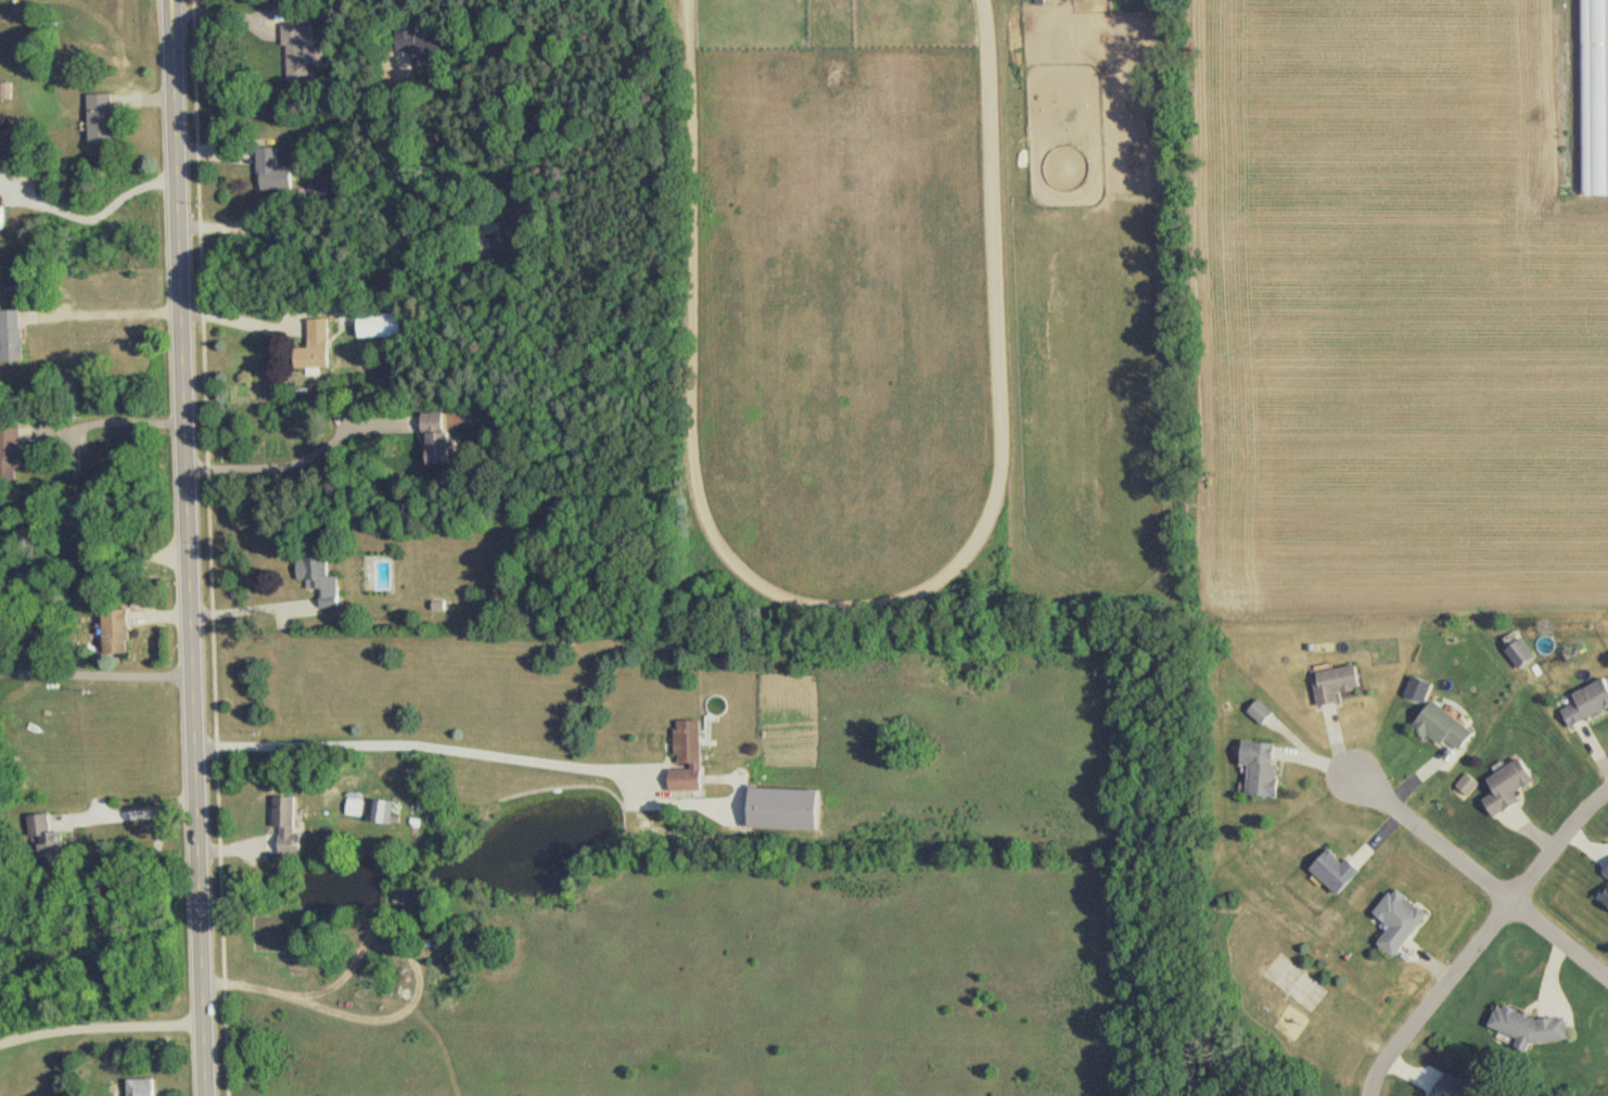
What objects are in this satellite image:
building: (1038, 1)
road: (234, 13)
building: (425, 43)
building: (303, 55)
building: (1597, 98)
building: (277, 173)
building: (1, 177)
building: (333, 188)
building: (521, 207)
building: (5, 217)
road: (98, 217)
road: (339, 271)
road: (109, 314)
building: (354, 317)
road: (244, 320)
building: (320, 346)
road: (109, 425)
building: (443, 438)
road: (307, 459)
road: (94, 531)
road: (190, 548)
building: (324, 573)
road: (254, 609)
building: (1517, 653)
road: (97, 673)
building: (1332, 684)
building: (1586, 702)
building: (1259, 712)
building: (1441, 727)
road: (433, 749)
building: (693, 757)
building: (1259, 768)
building: (1505, 787)
building: (385, 812)
road: (132, 813)
building: (291, 829)
road: (1434, 840)
building: (1332, 870)
building: (406, 897)
building: (1396, 920)
road: (1481, 938)
road: (1559, 938)
road: (413, 1006)
road: (102, 1030)
building: (146, 1087)

